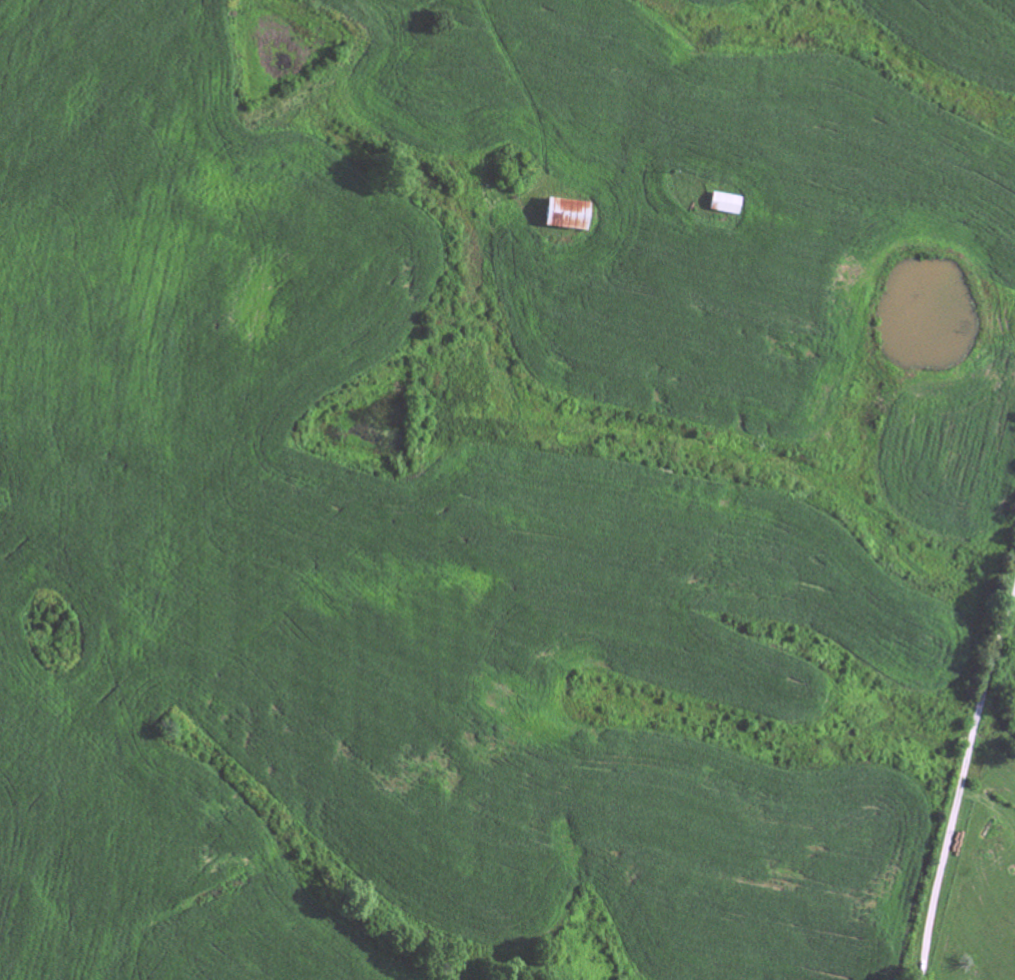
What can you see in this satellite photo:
building: (721, 206)
road: (963, 781)

